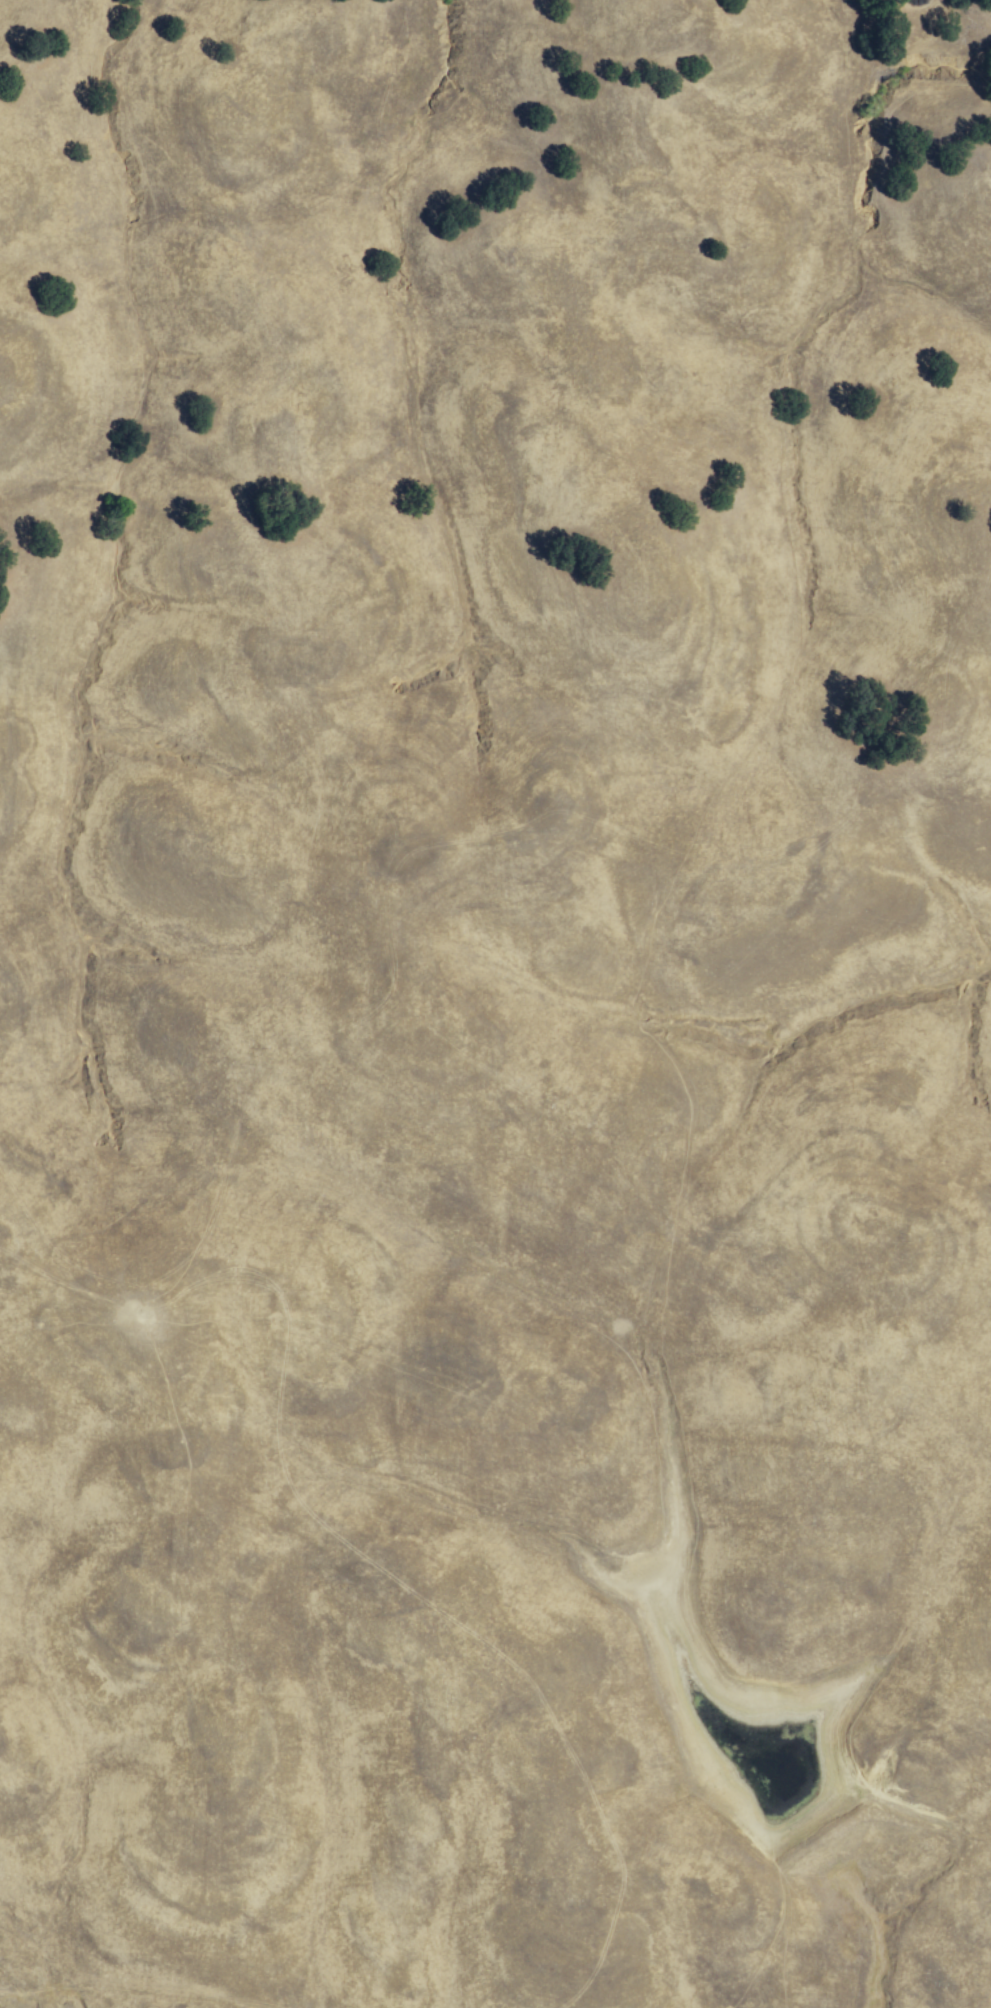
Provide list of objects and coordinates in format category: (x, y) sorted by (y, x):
dam: (804, 1821)

